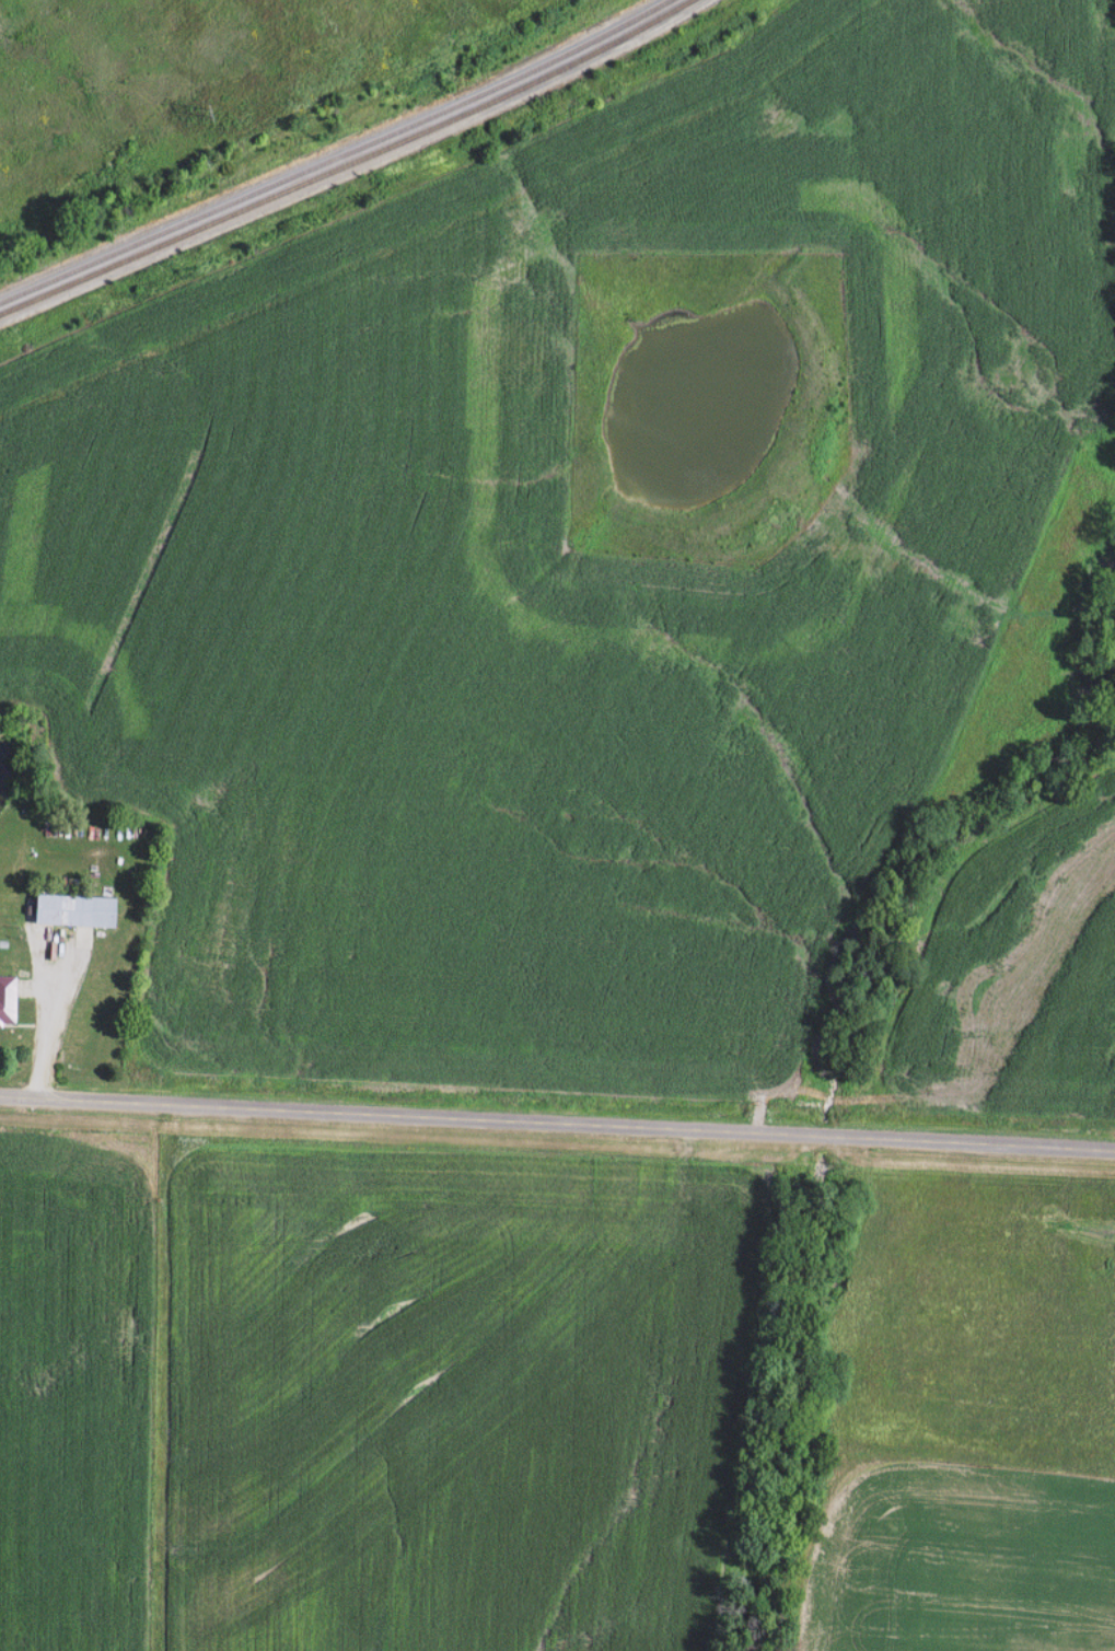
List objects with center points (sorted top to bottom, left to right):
railway: (336, 156)
railway: (348, 164)
building: (68, 910)
building: (4, 999)
road: (54, 1014)
road: (557, 1119)

